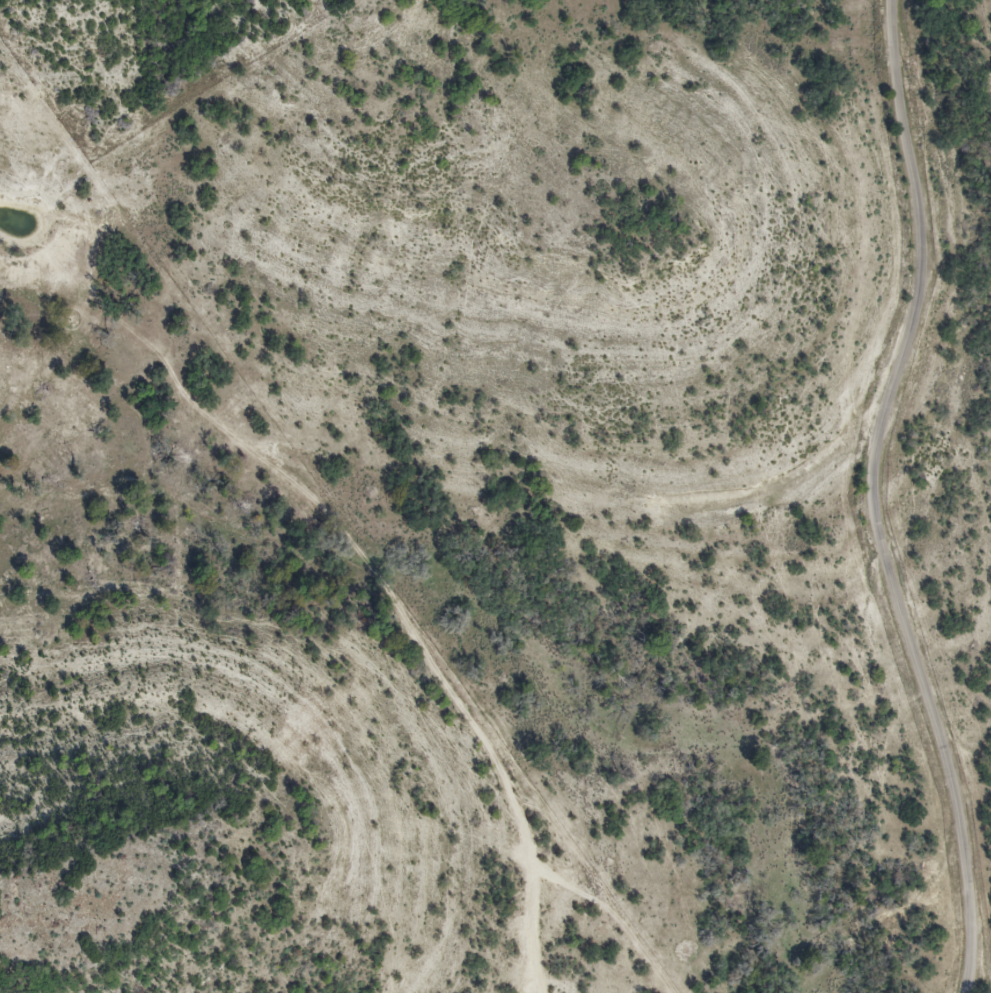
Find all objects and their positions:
road: (872, 497)

